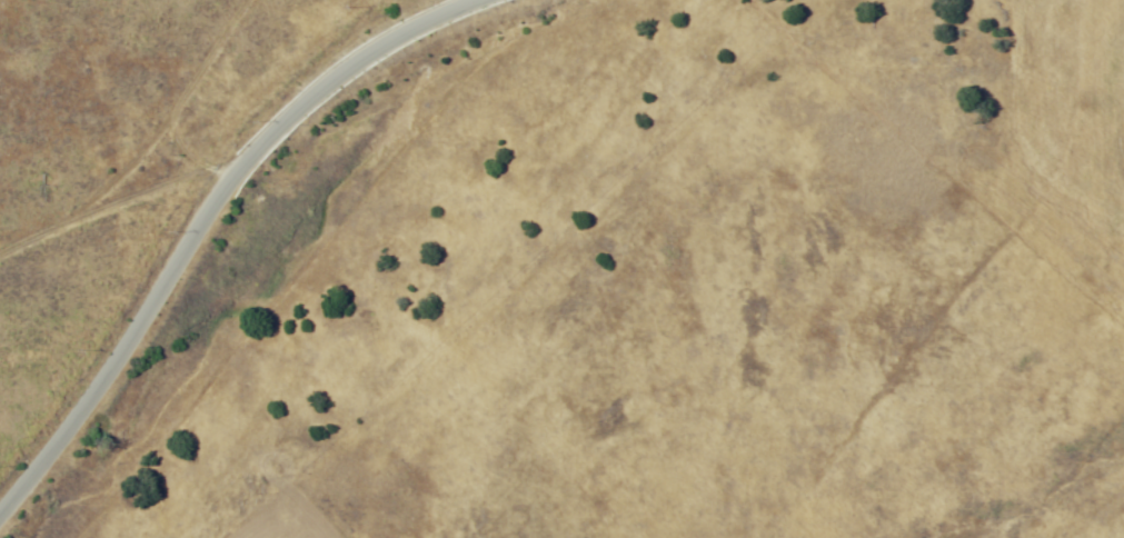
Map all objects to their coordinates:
road: (207, 221)

